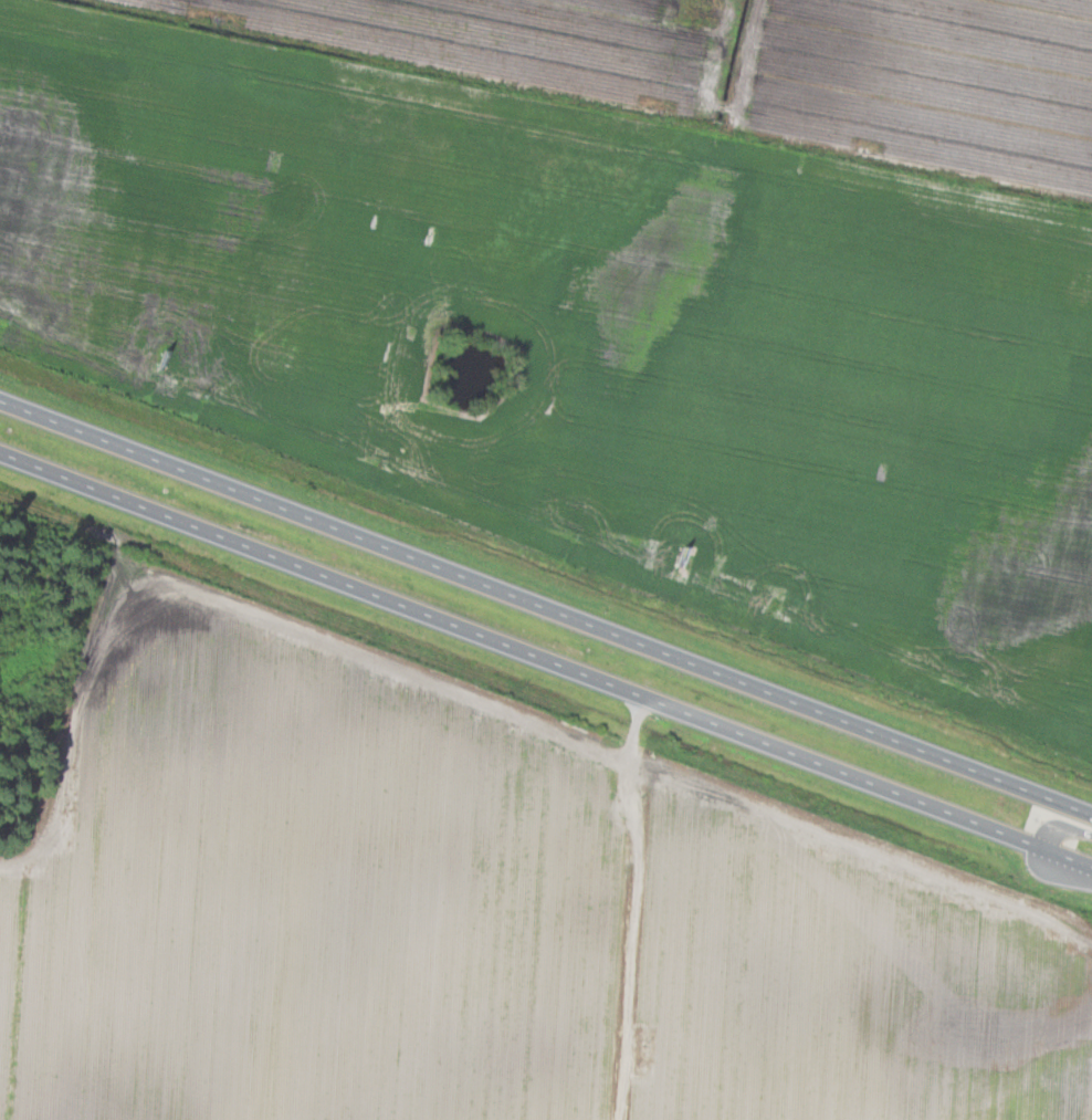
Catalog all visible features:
road: (546, 606)
road: (546, 657)
road: (1063, 828)
road: (626, 906)

